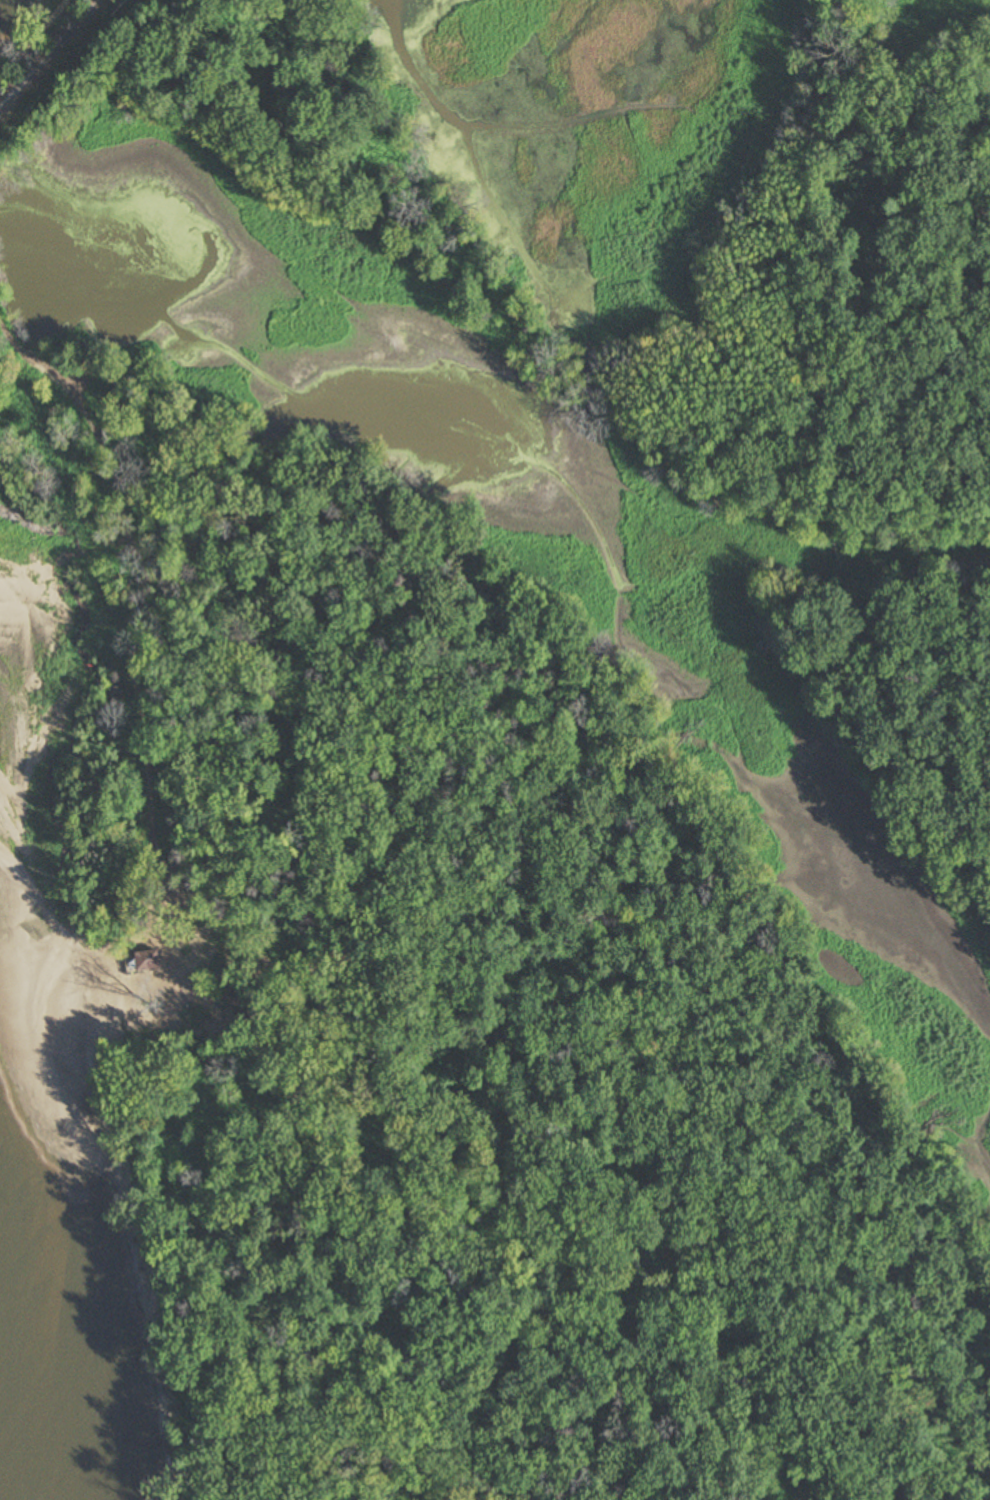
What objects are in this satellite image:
road: (49, 54)
park: (320, 85)
road: (308, 97)
road: (162, 820)
road: (714, 843)

